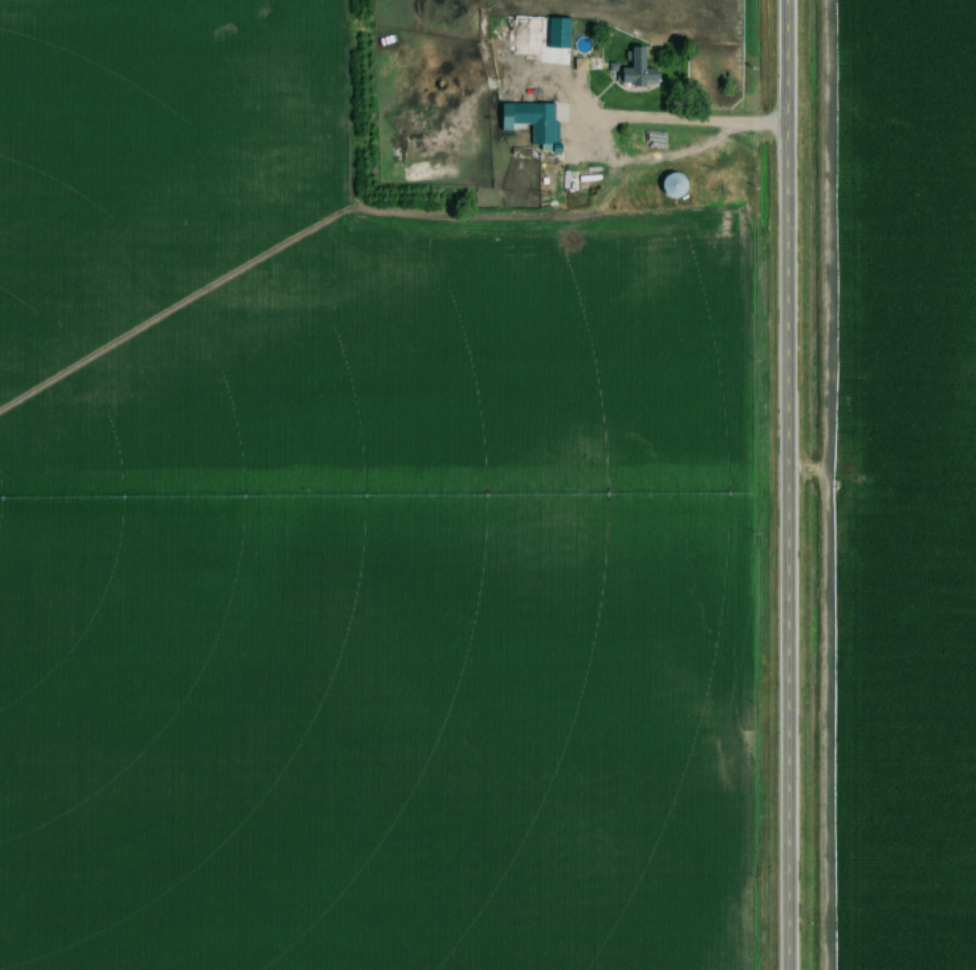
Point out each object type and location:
building: (527, 36)
building: (645, 70)
building: (533, 120)
road: (669, 123)
building: (678, 187)
road: (784, 484)

